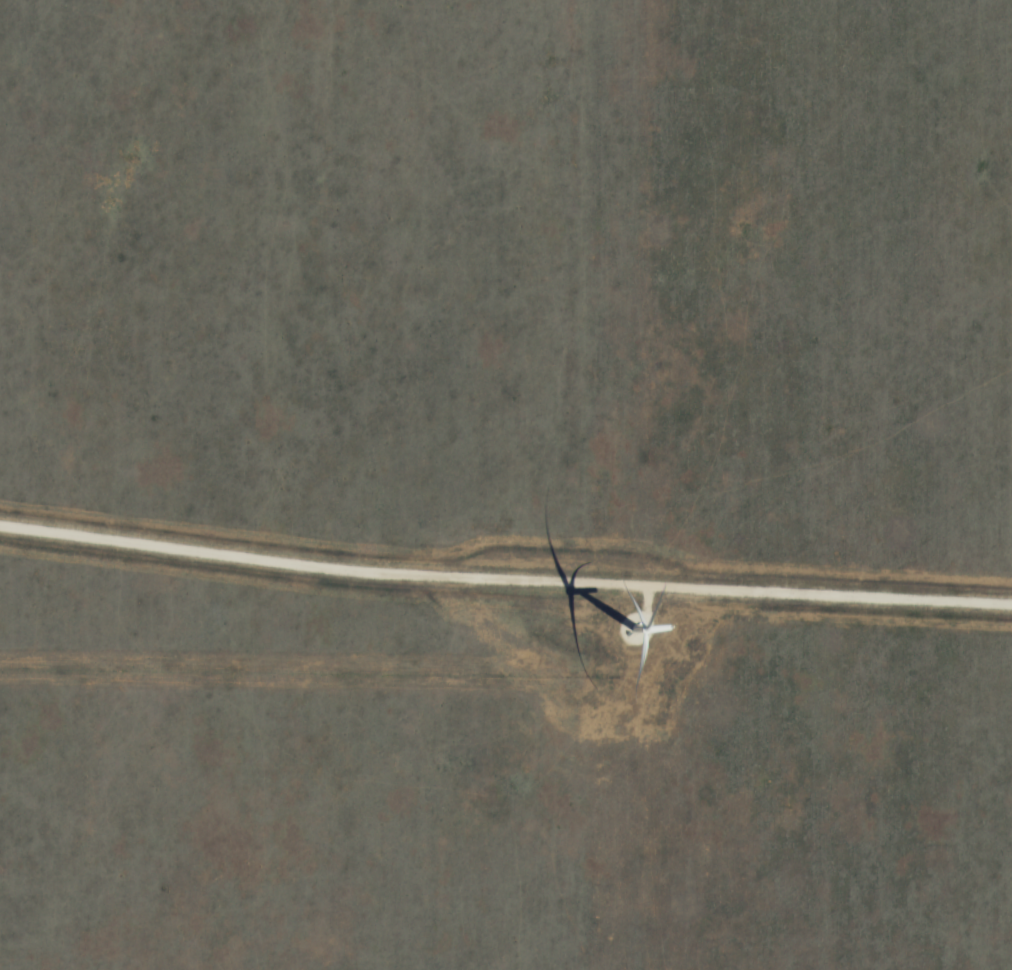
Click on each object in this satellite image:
wind turbine: (630, 630)

